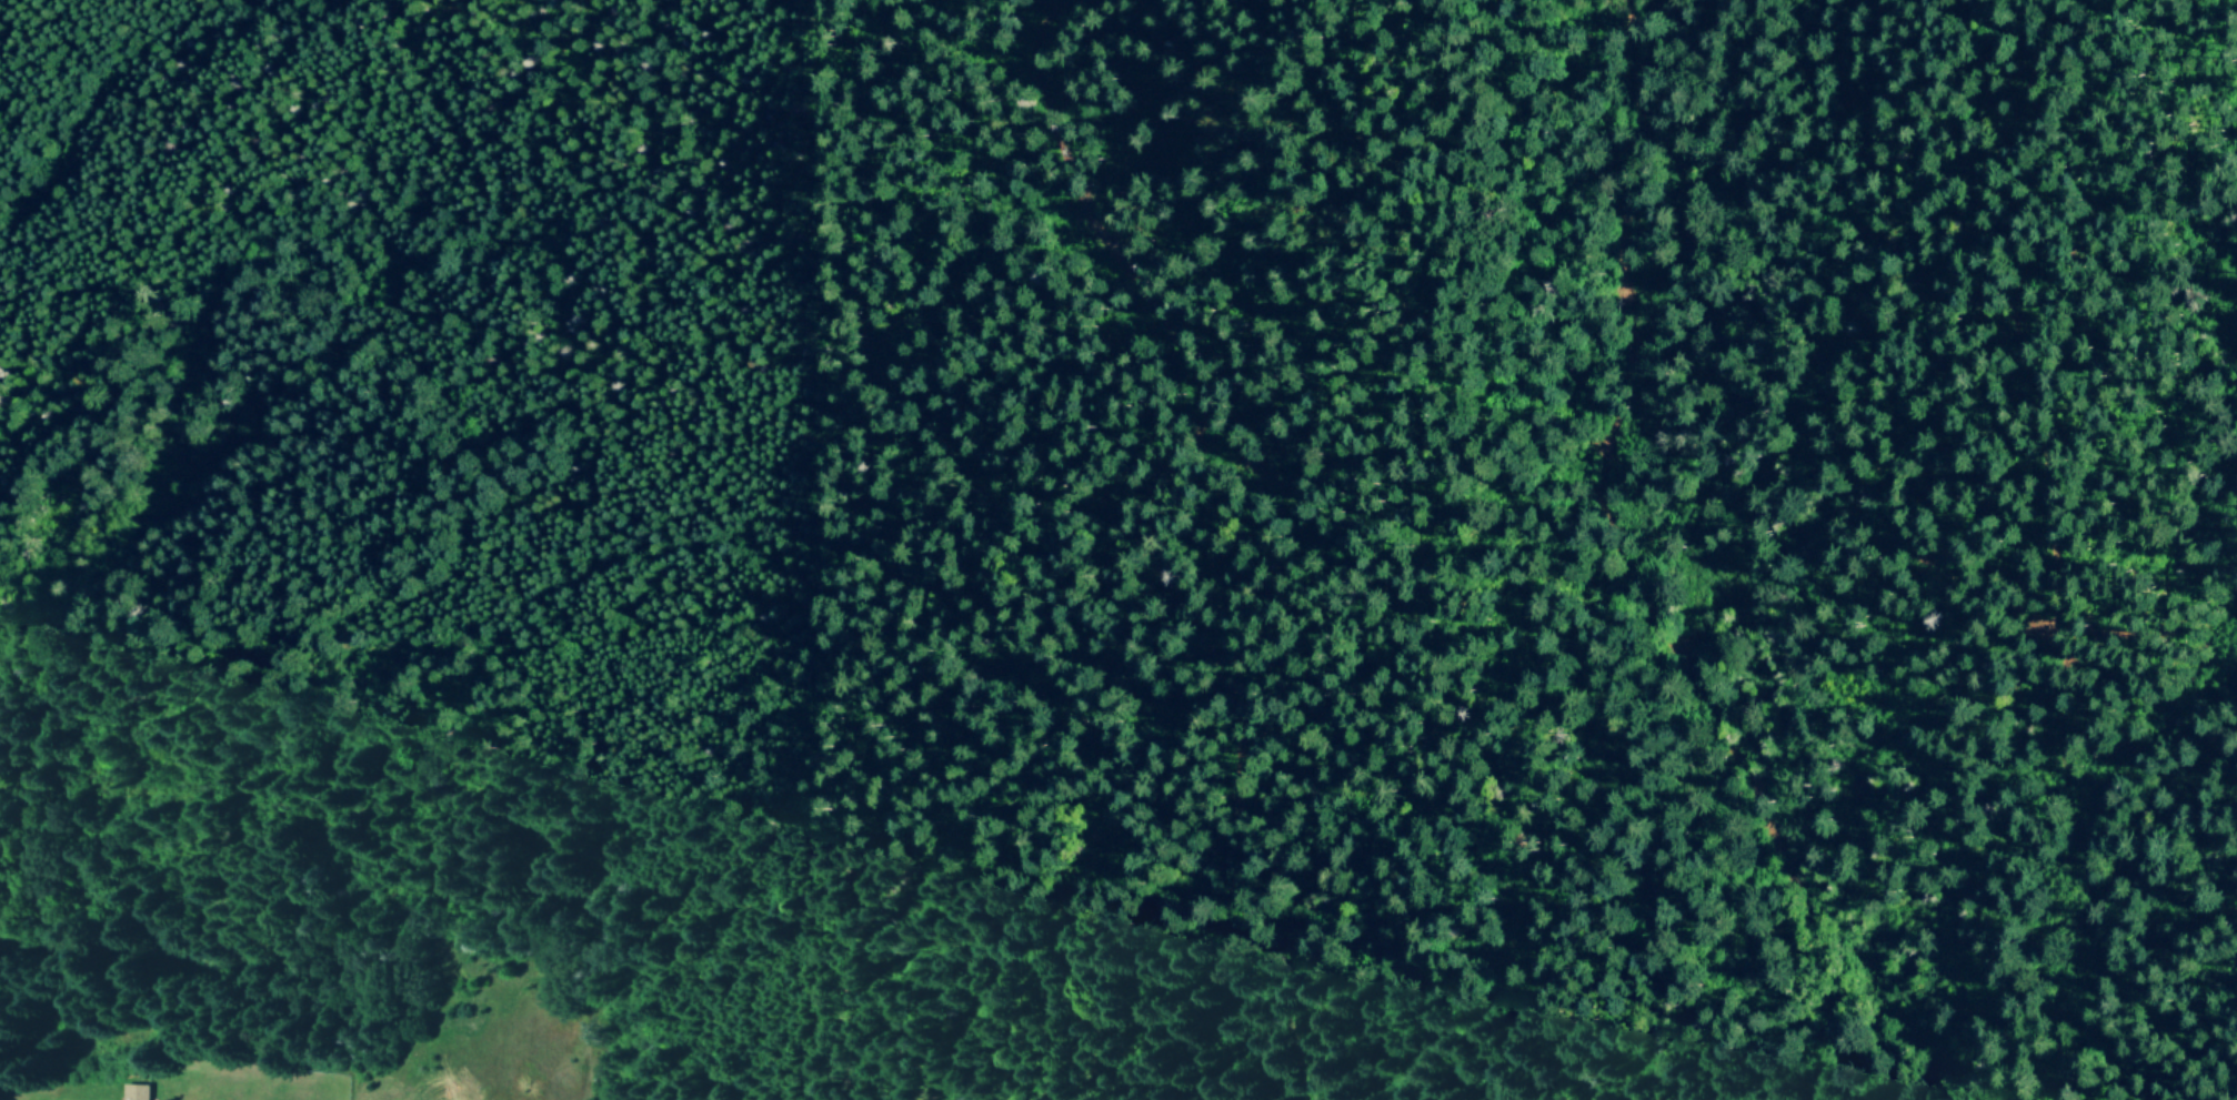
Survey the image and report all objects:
building: (137, 1091)

